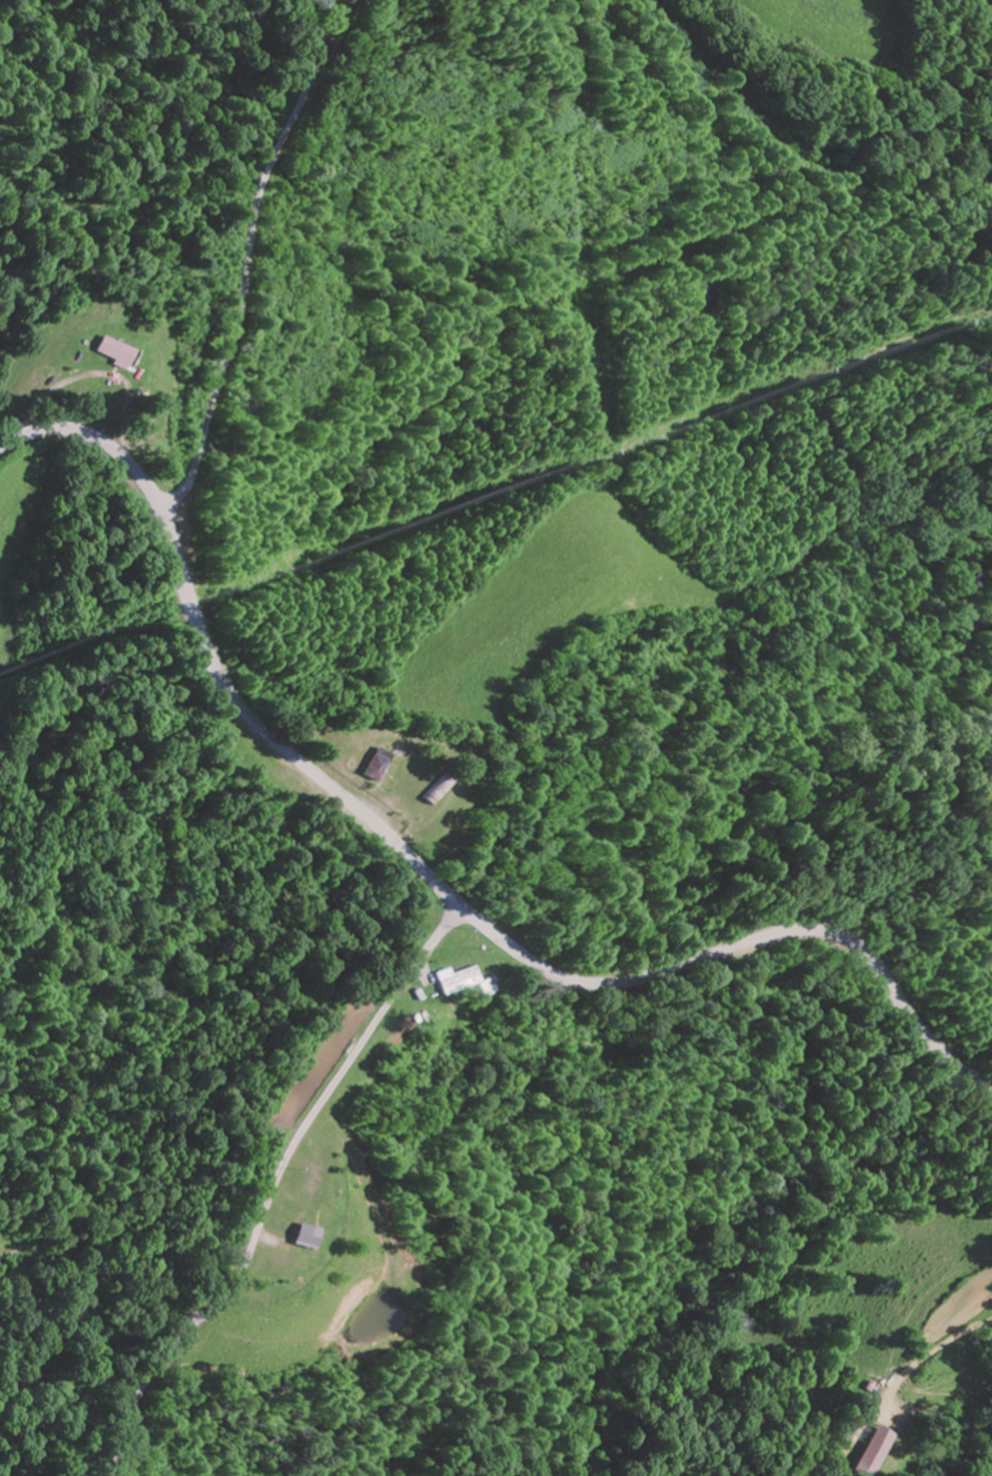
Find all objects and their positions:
road: (245, 248)
building: (110, 351)
building: (377, 763)
building: (392, 775)
building: (438, 787)
road: (431, 872)
building: (458, 979)
road: (279, 1185)

